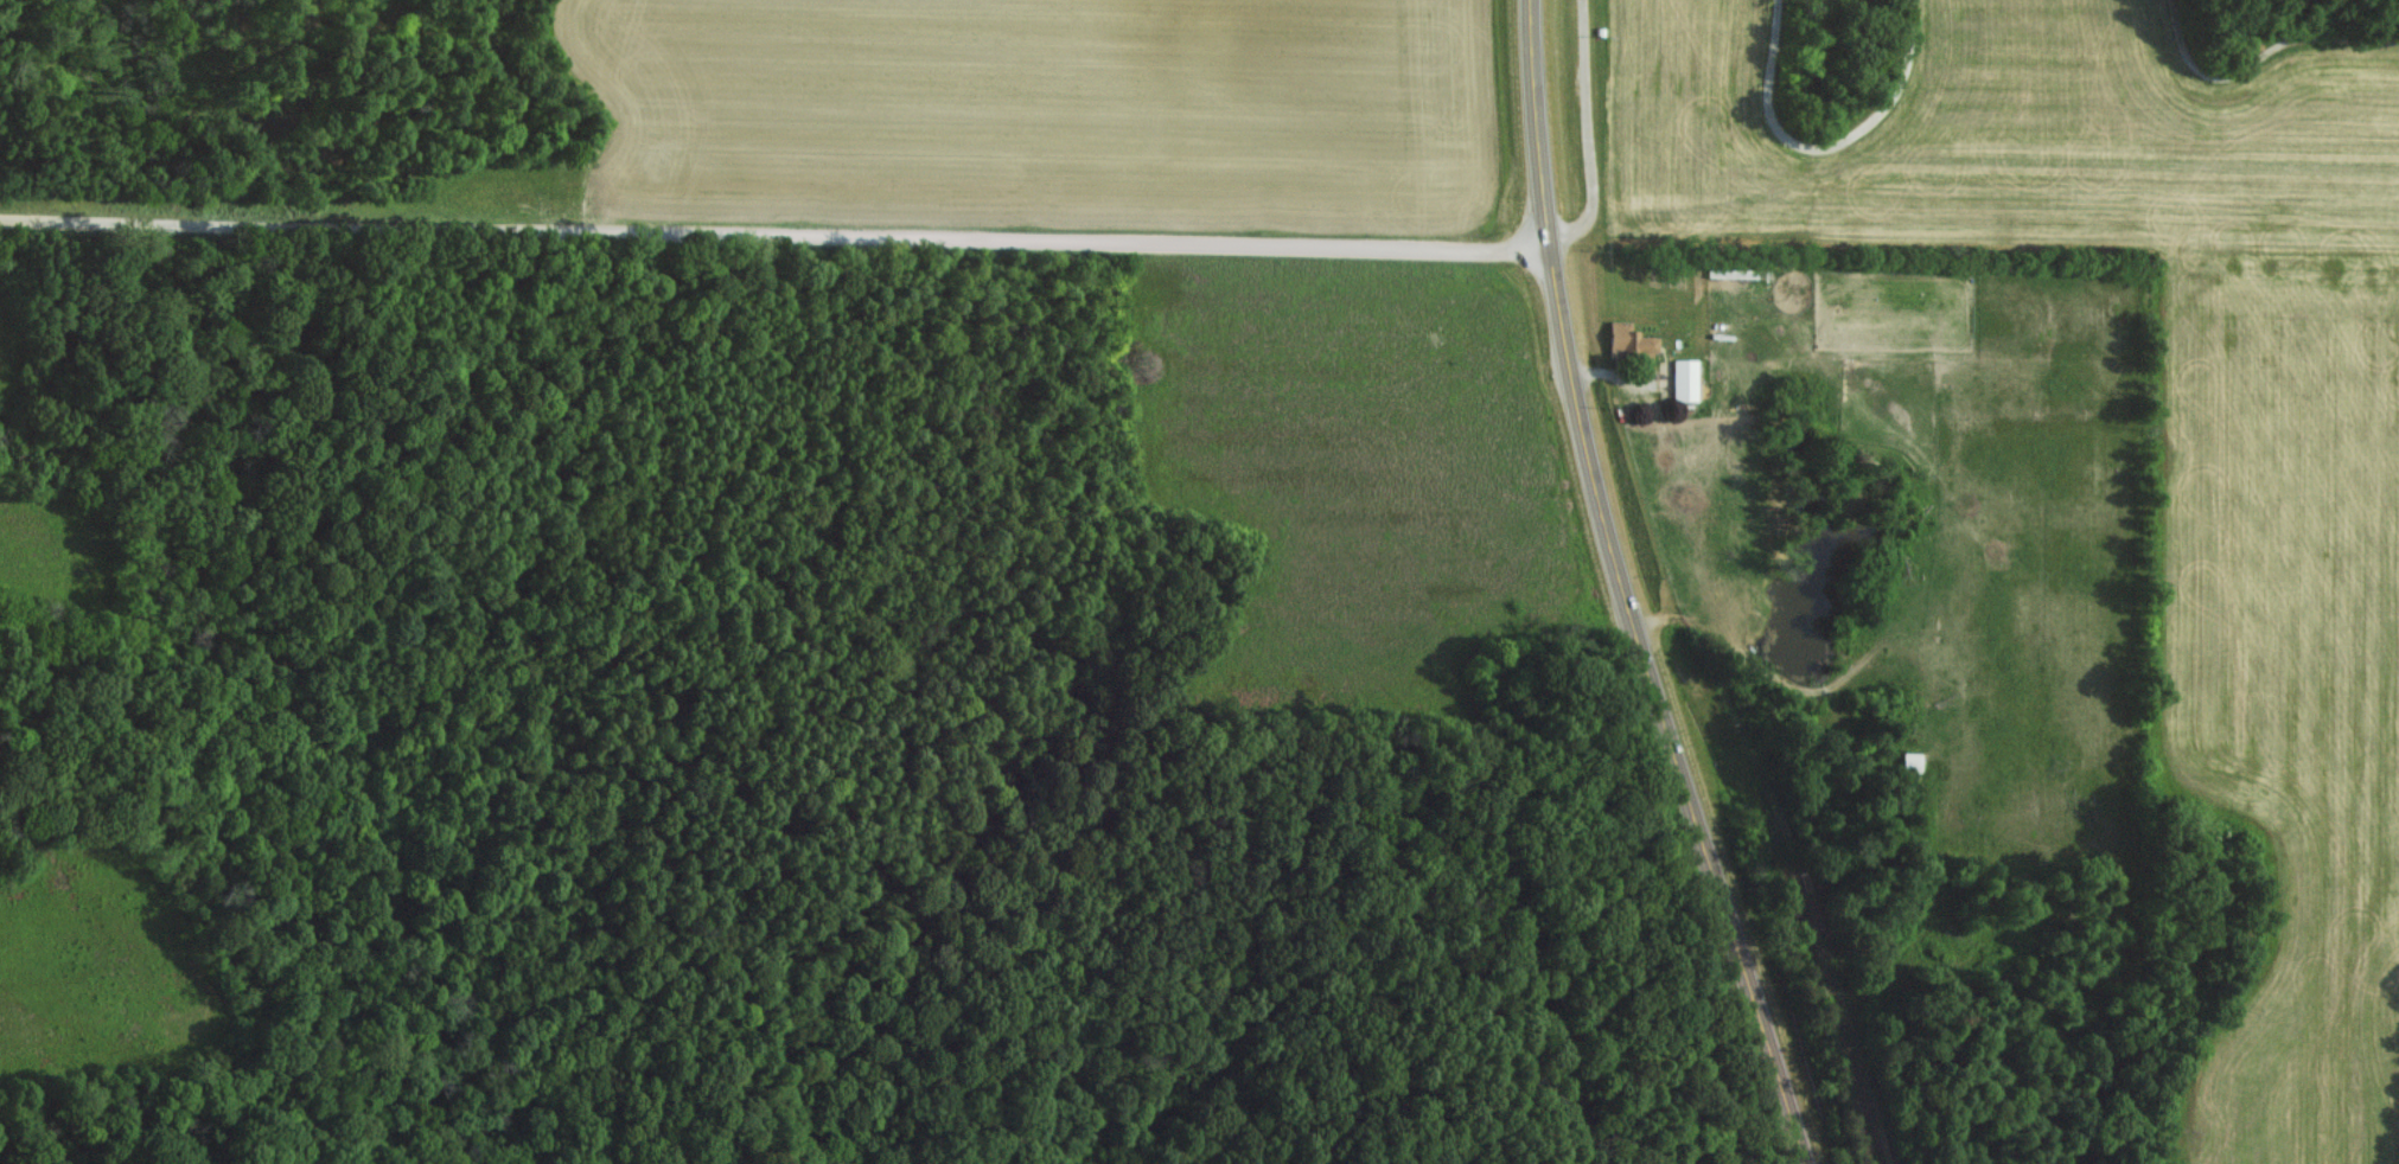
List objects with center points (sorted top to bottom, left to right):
road: (2261, 55)
road: (1591, 134)
road: (1824, 143)
road: (774, 230)
building: (1629, 343)
building: (1685, 379)
road: (1627, 591)
building: (1912, 760)

